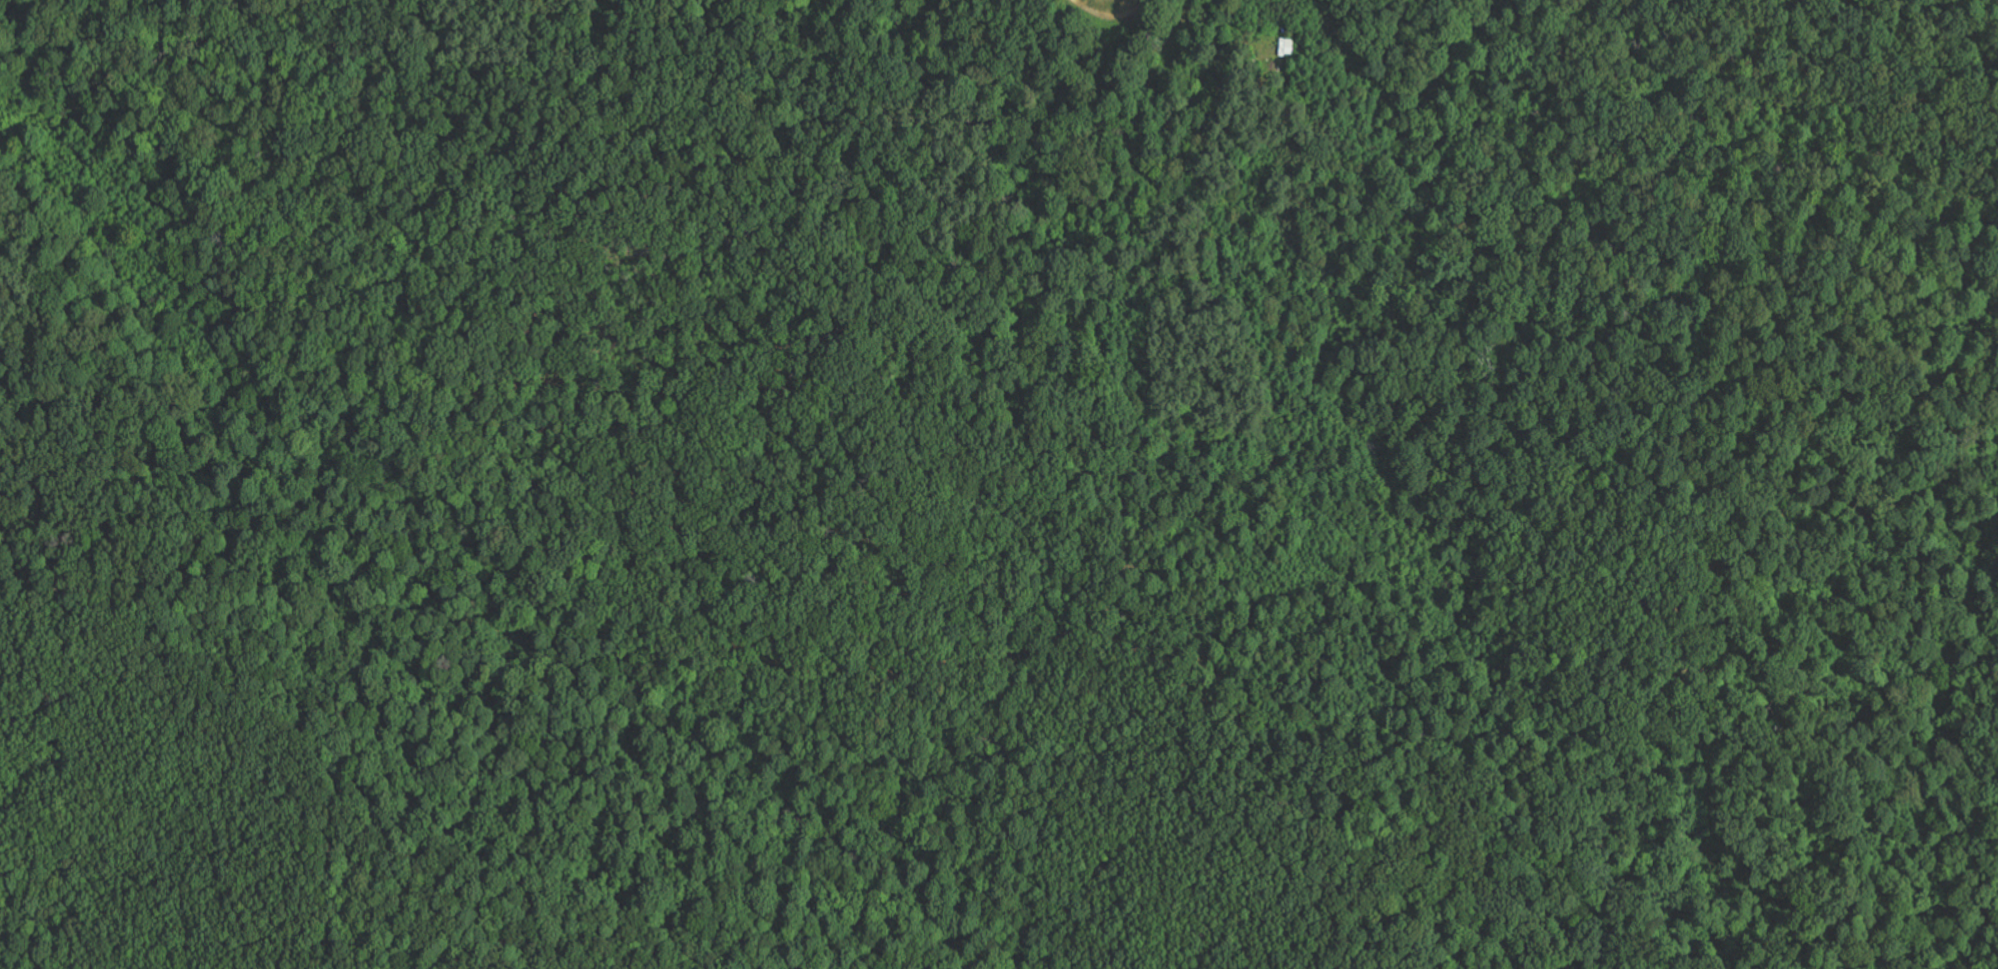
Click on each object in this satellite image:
road: (1171, 1)

